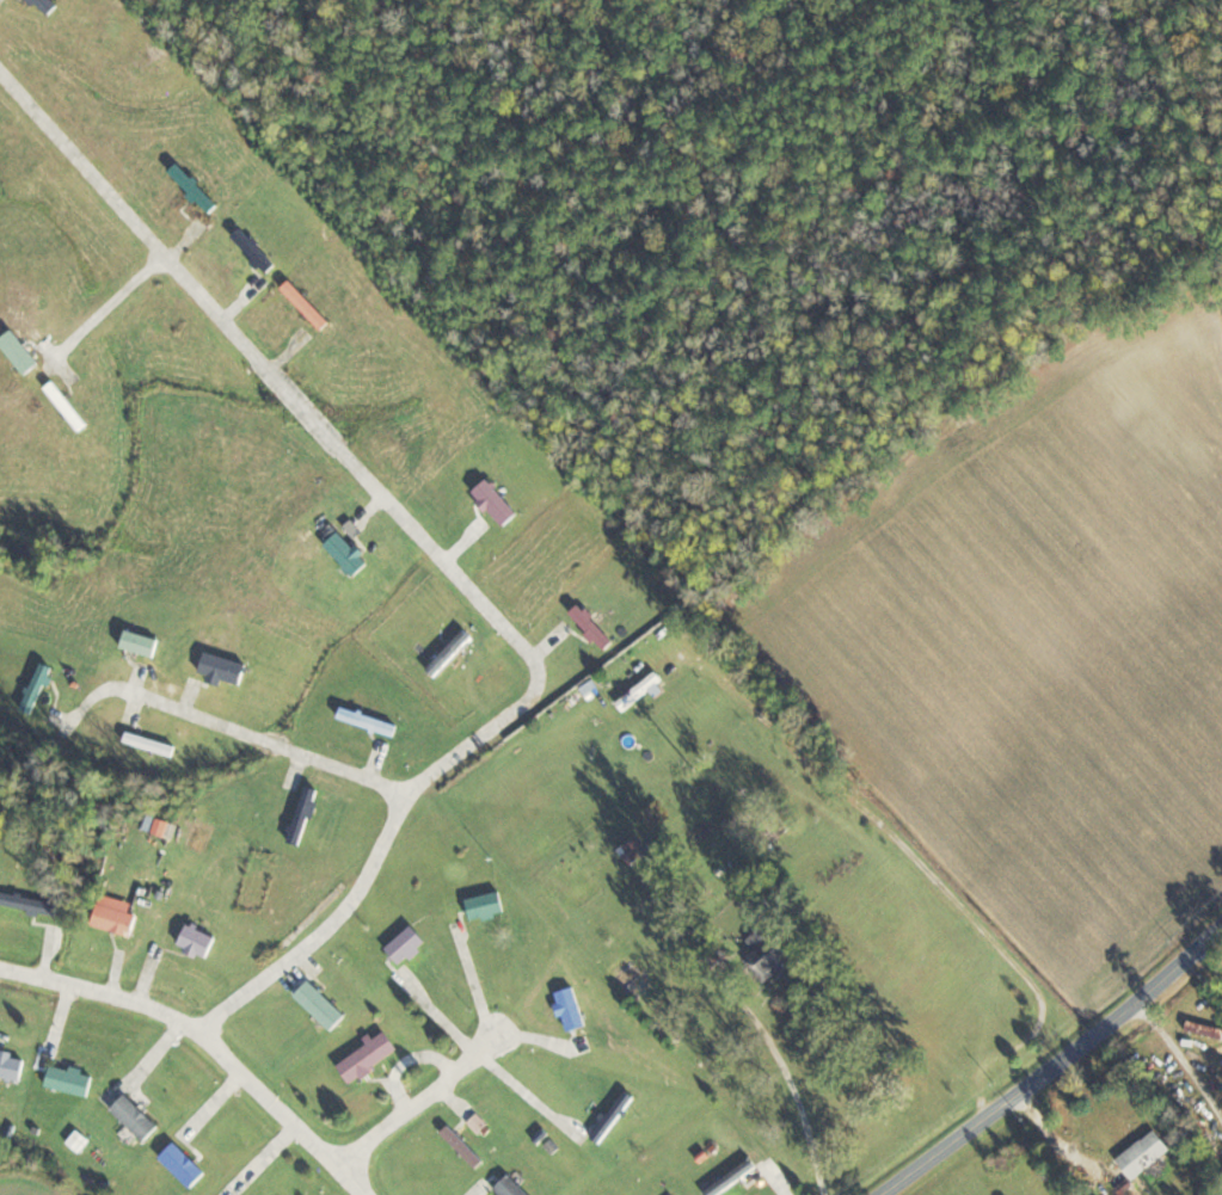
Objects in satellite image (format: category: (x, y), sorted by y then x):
building: (51, 5)
building: (183, 172)
building: (23, 351)
building: (72, 405)
building: (499, 501)
building: (351, 553)
road: (440, 553)
building: (142, 641)
building: (227, 666)
building: (42, 686)
building: (645, 688)
building: (371, 720)
road: (266, 741)
building: (155, 743)
building: (307, 814)
building: (33, 903)
building: (489, 905)
building: (118, 918)
building: (201, 940)
building: (410, 943)
building: (772, 951)
road: (1212, 951)
building: (638, 978)
road: (475, 988)
building: (324, 1004)
building: (575, 1008)
road: (441, 1016)
road: (211, 1034)
building: (371, 1057)
road: (1183, 1059)
road: (405, 1061)
road: (1058, 1065)
building: (12, 1066)
building: (72, 1079)
road: (528, 1091)
road: (797, 1098)
road: (422, 1105)
building: (137, 1116)
building: (615, 1116)
road: (1056, 1139)
building: (468, 1146)
building: (1150, 1154)
building: (185, 1164)
building: (735, 1176)
building: (514, 1187)

